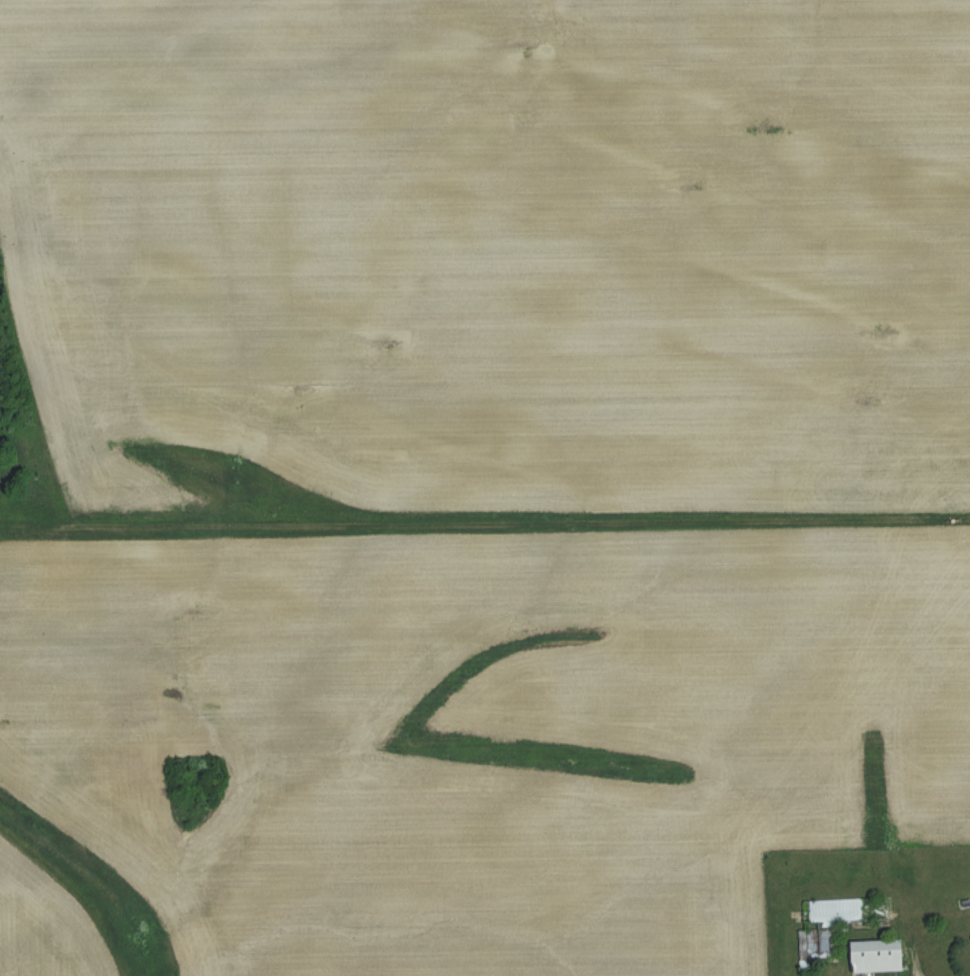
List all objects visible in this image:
building: (826, 926)
building: (878, 956)
road: (918, 975)

